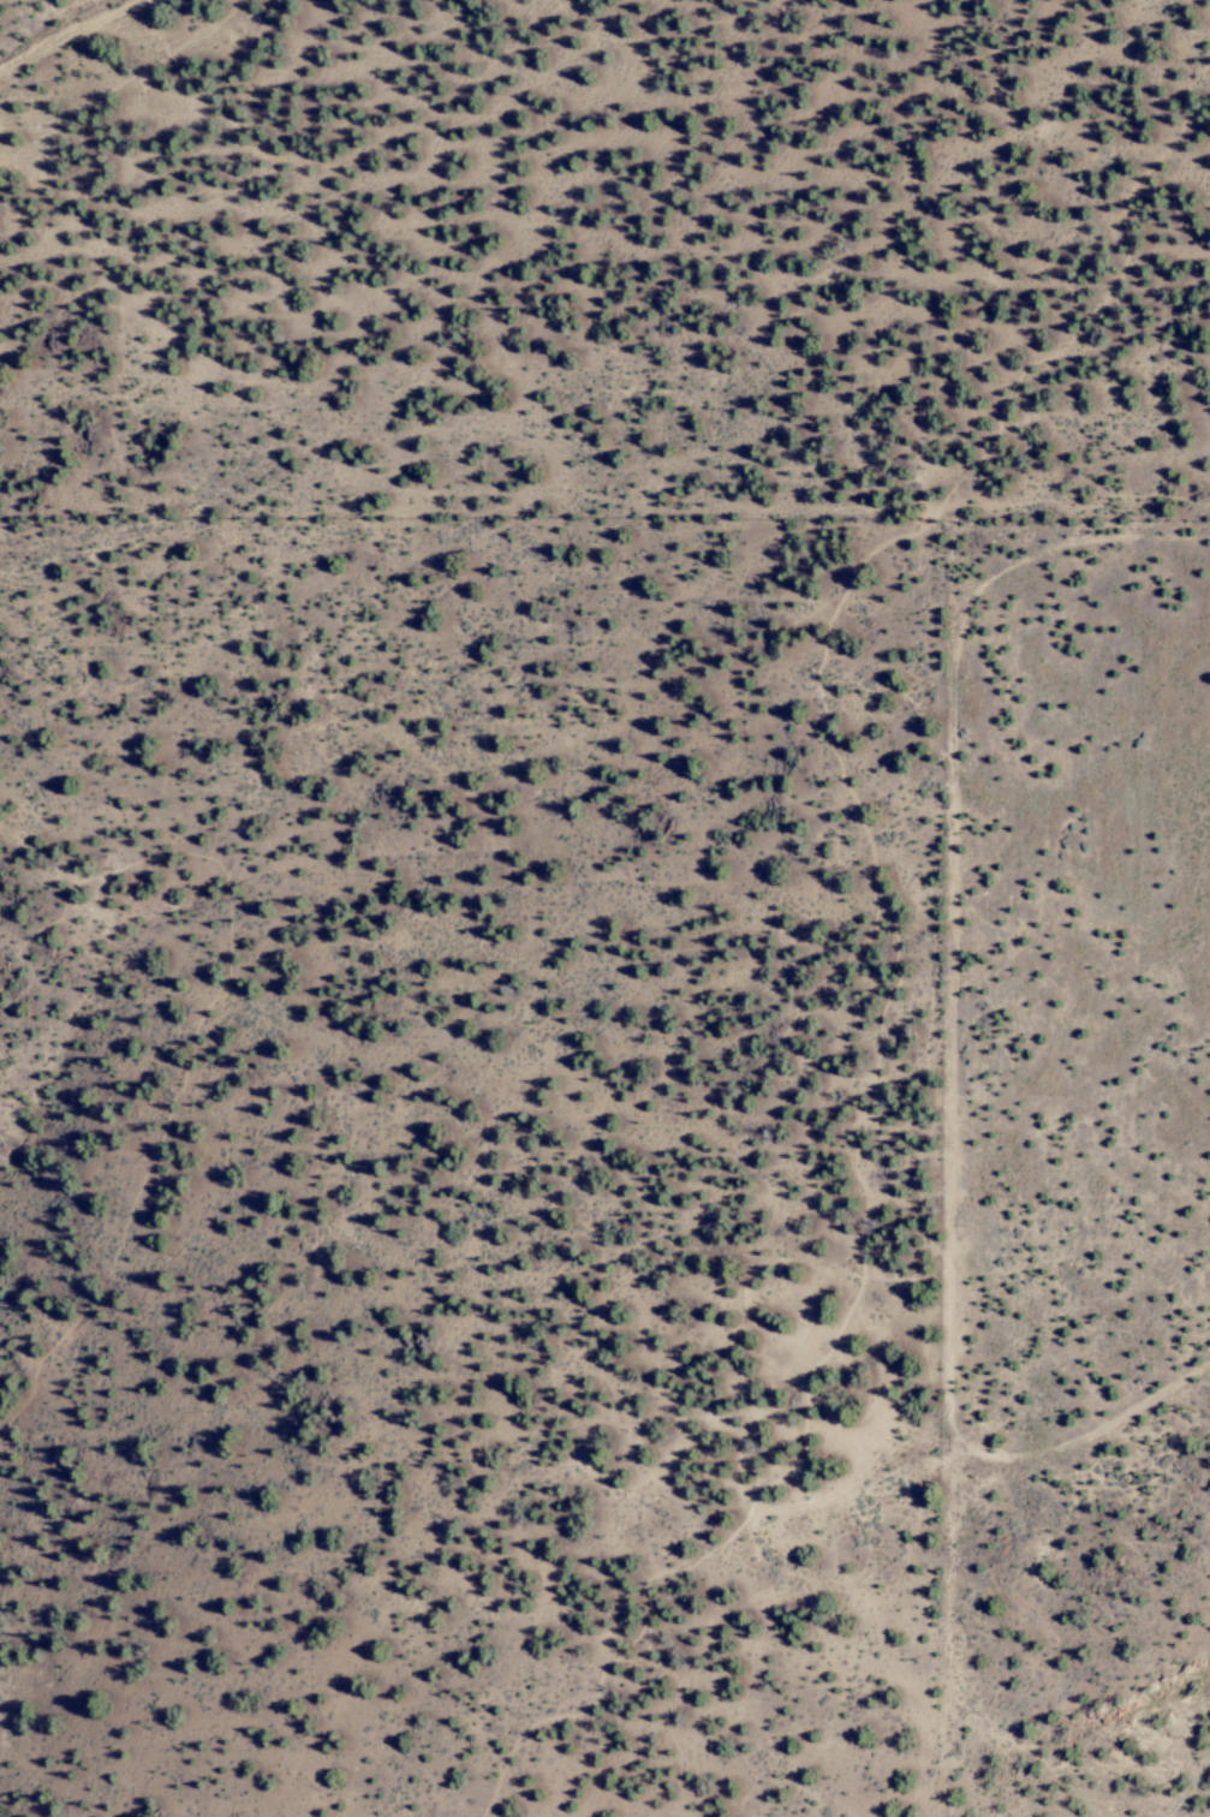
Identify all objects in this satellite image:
road: (1102, 326)
road: (876, 1240)
road: (640, 1639)
road: (656, 1642)

